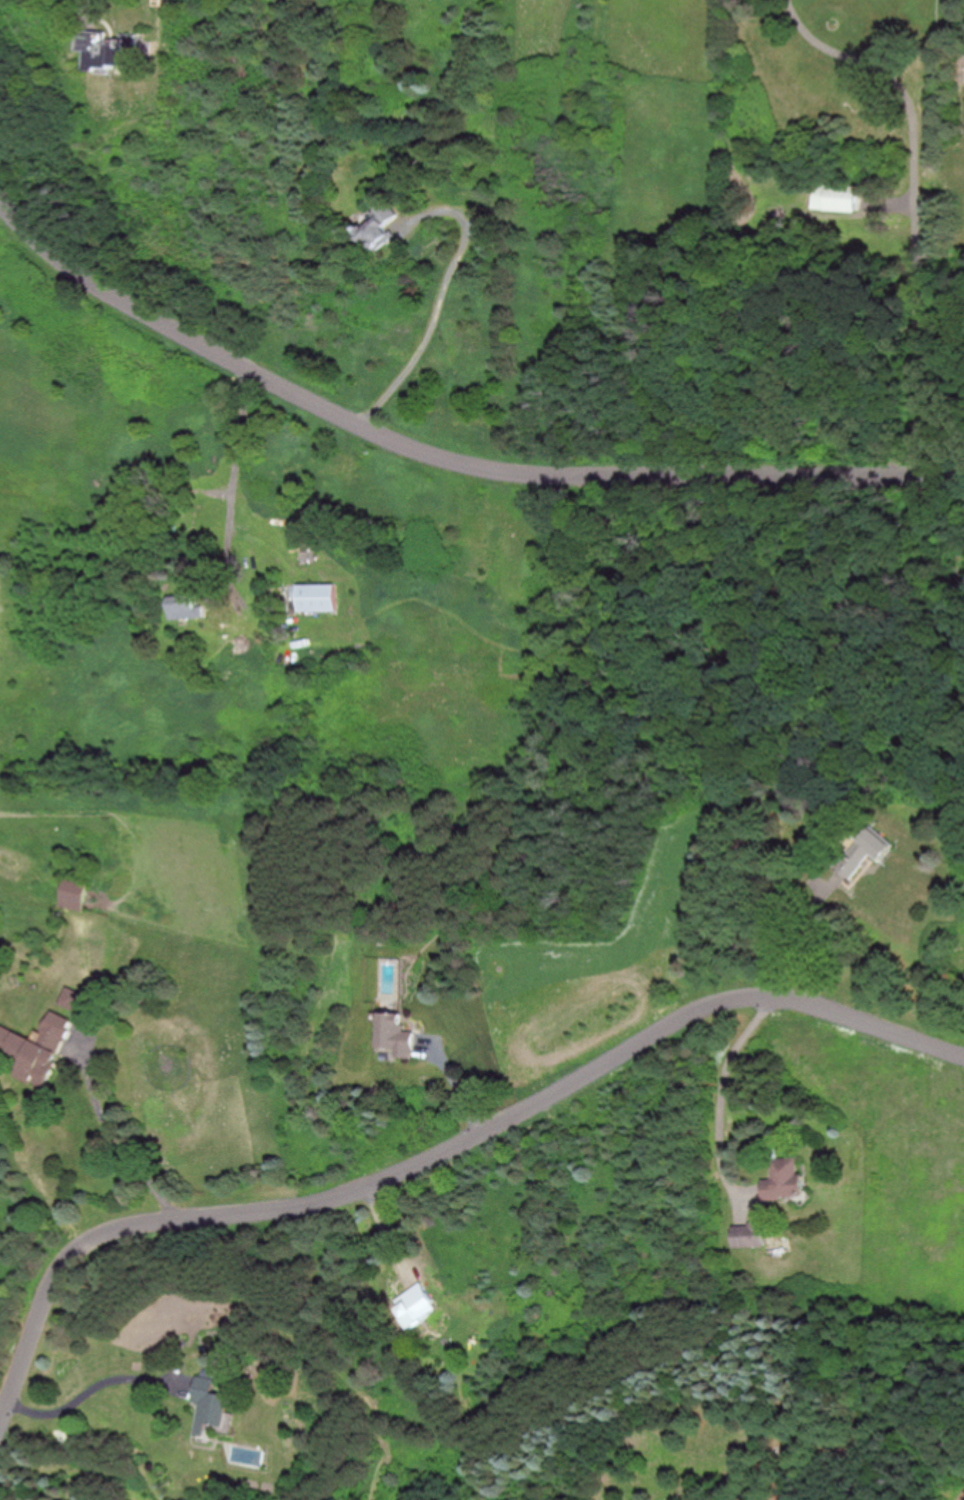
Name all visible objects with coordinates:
building: (962, 67)
building: (834, 196)
road: (917, 207)
building: (377, 228)
road: (434, 317)
road: (446, 462)
road: (237, 475)
building: (142, 489)
building: (318, 595)
building: (182, 608)
building: (863, 852)
building: (74, 893)
building: (70, 998)
building: (390, 1033)
building: (36, 1047)
road: (722, 1096)
road: (112, 1144)
road: (444, 1151)
building: (783, 1178)
building: (749, 1233)
building: (415, 1304)
road: (83, 1394)
building: (208, 1403)

